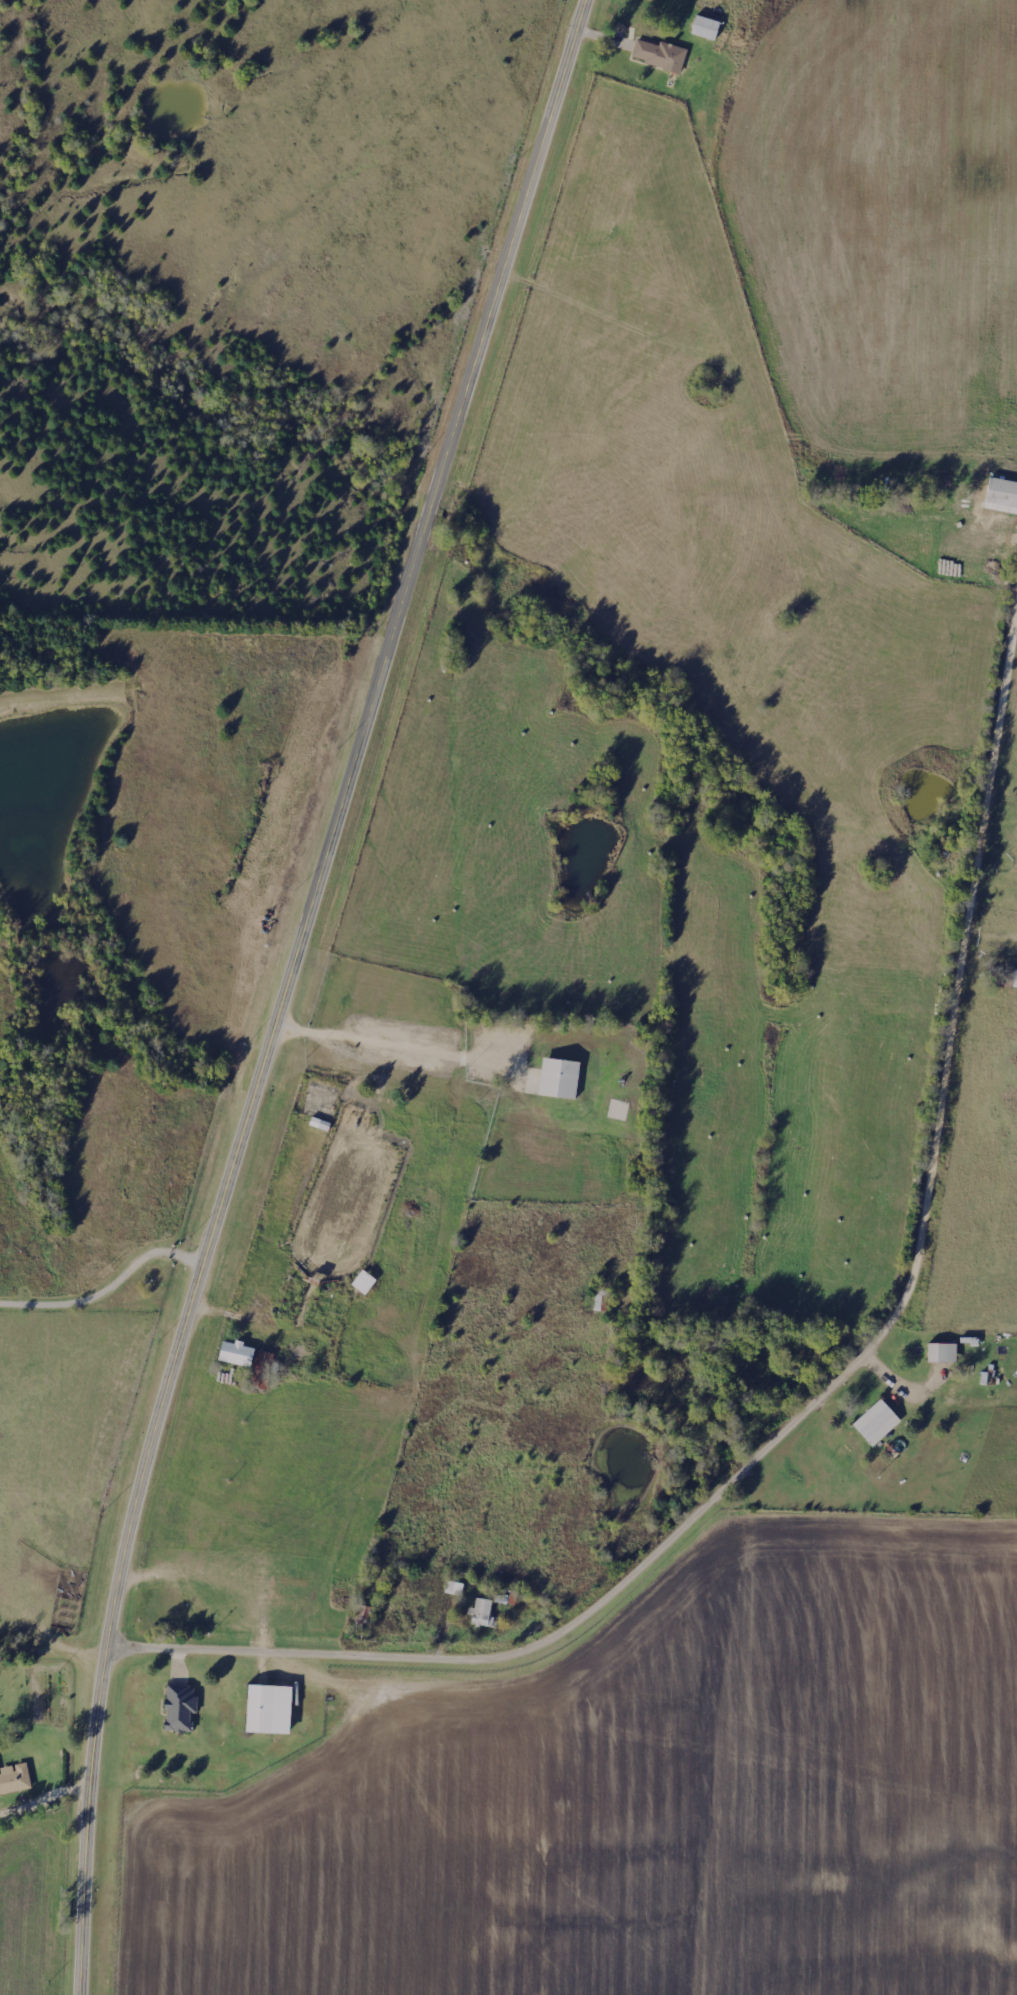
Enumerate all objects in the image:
building: (705, 27)
building: (660, 55)
building: (1002, 493)
building: (1015, 980)
road: (289, 988)
building: (559, 1078)
building: (364, 1282)
building: (236, 1353)
building: (942, 1353)
building: (262, 1370)
building: (876, 1423)
road: (776, 1448)
building: (483, 1614)
building: (180, 1709)
building: (269, 1710)
building: (14, 1779)

